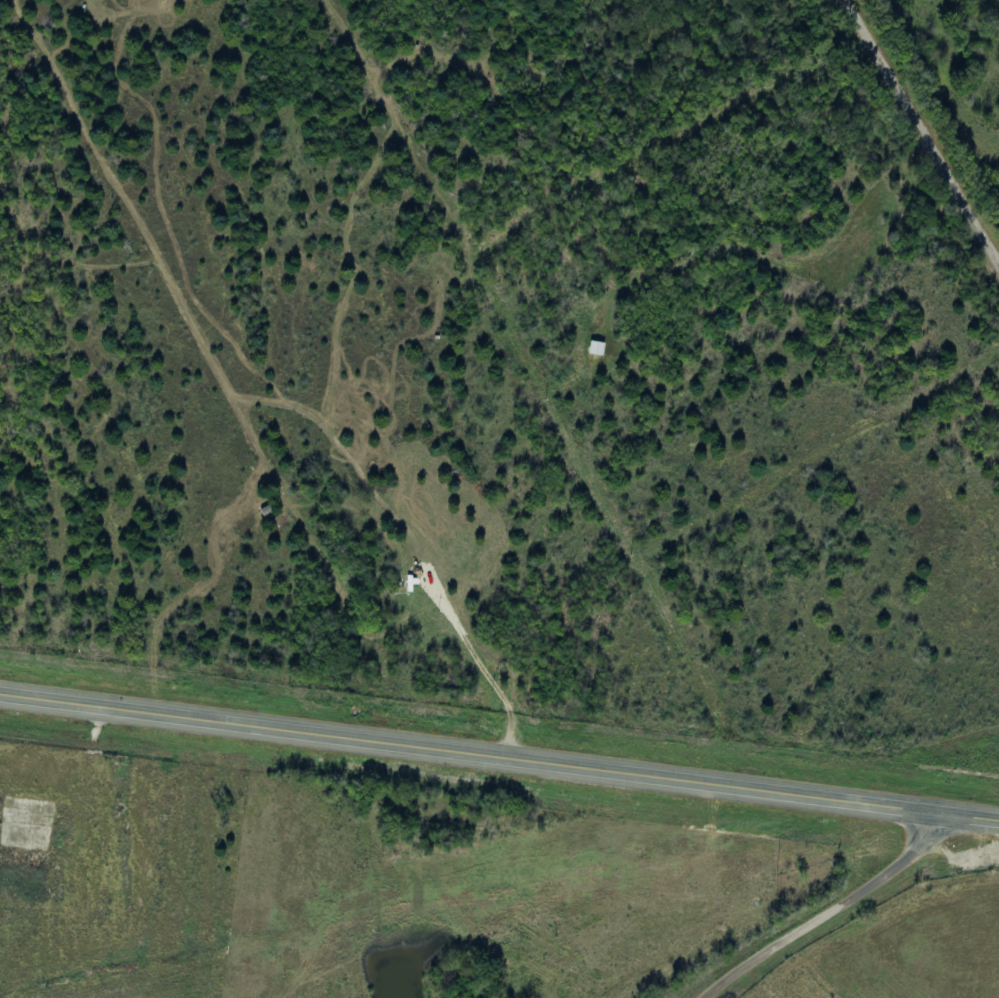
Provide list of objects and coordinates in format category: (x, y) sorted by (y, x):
road: (925, 125)
road: (499, 753)
road: (839, 907)

